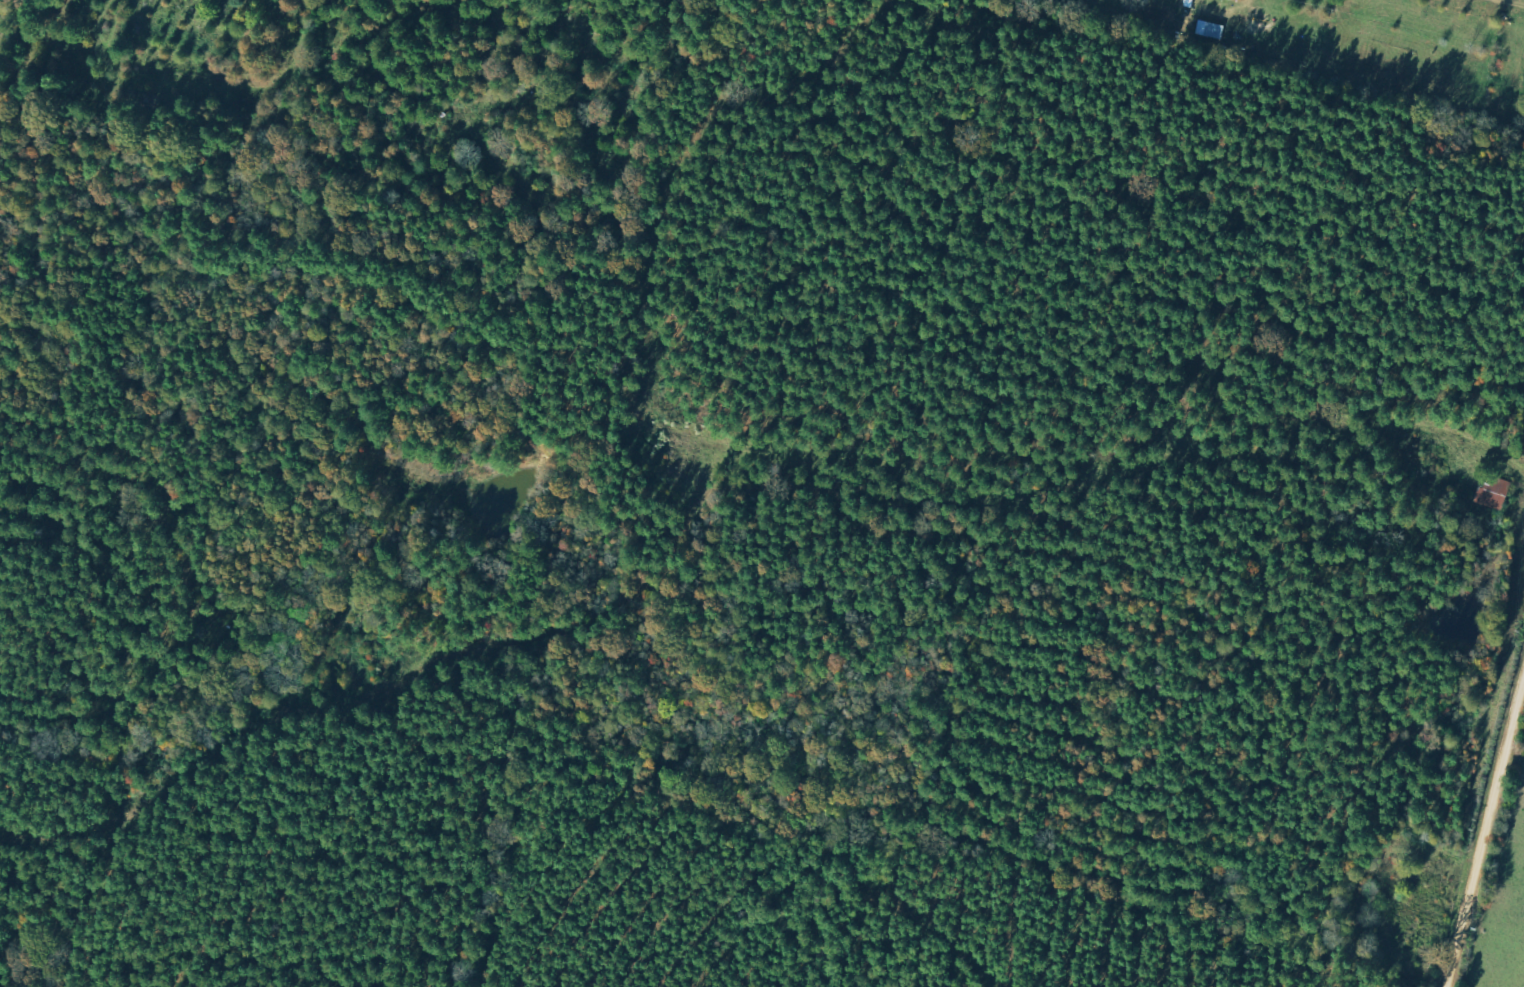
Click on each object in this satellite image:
road: (1353, 379)
building: (1497, 493)
road: (1499, 885)

